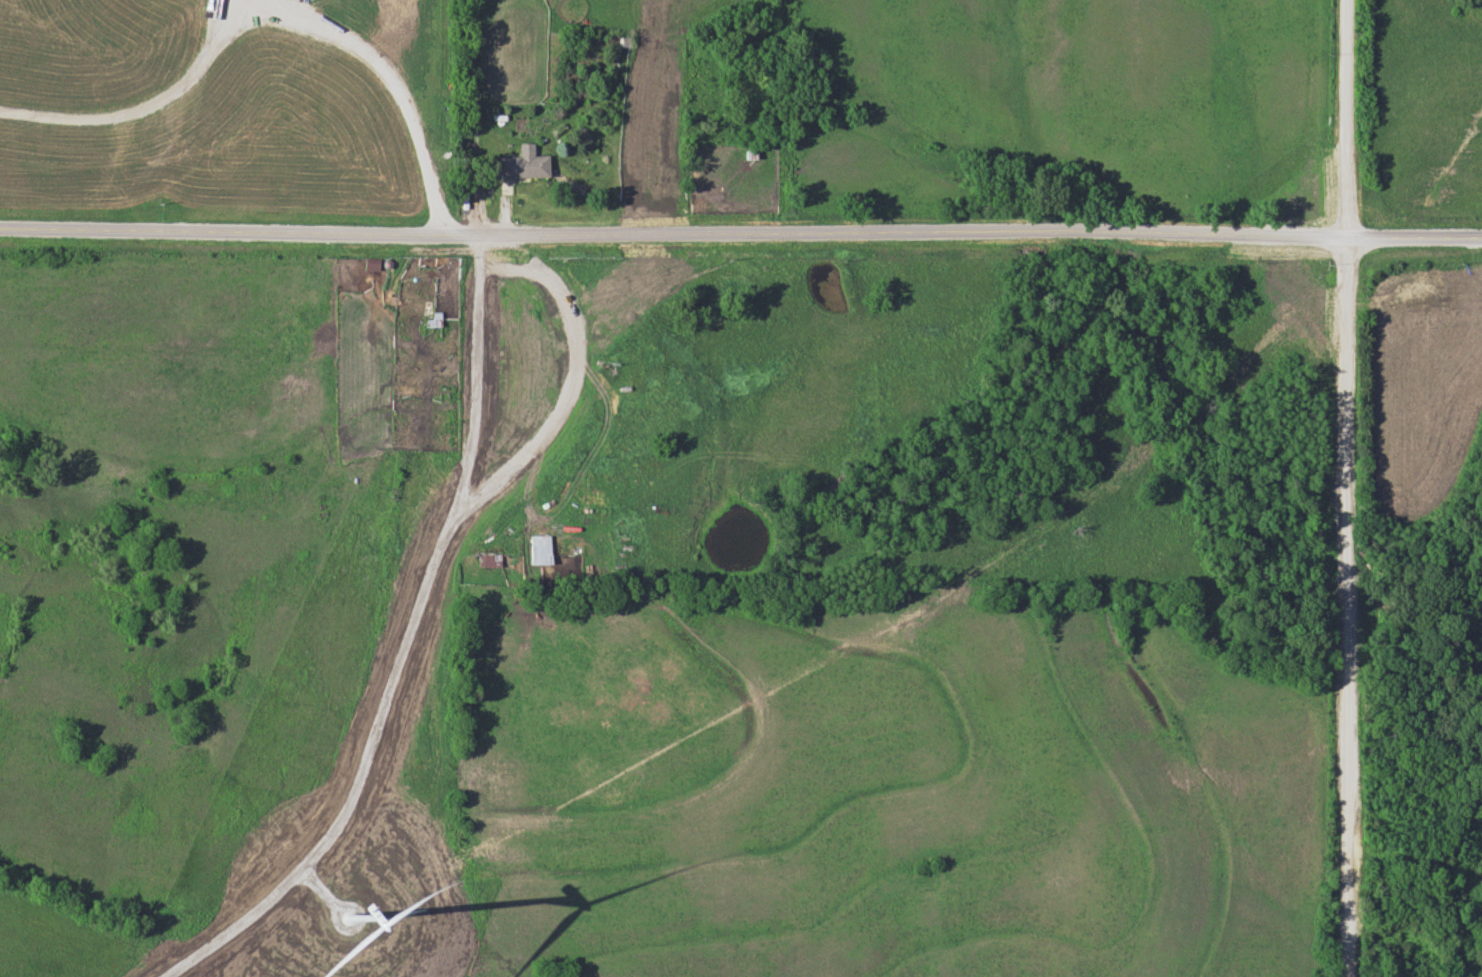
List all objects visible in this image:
road: (268, 5)
building: (517, 166)
road: (740, 233)
road: (1345, 488)
building: (537, 554)
building: (487, 561)
wind turbine: (348, 916)

